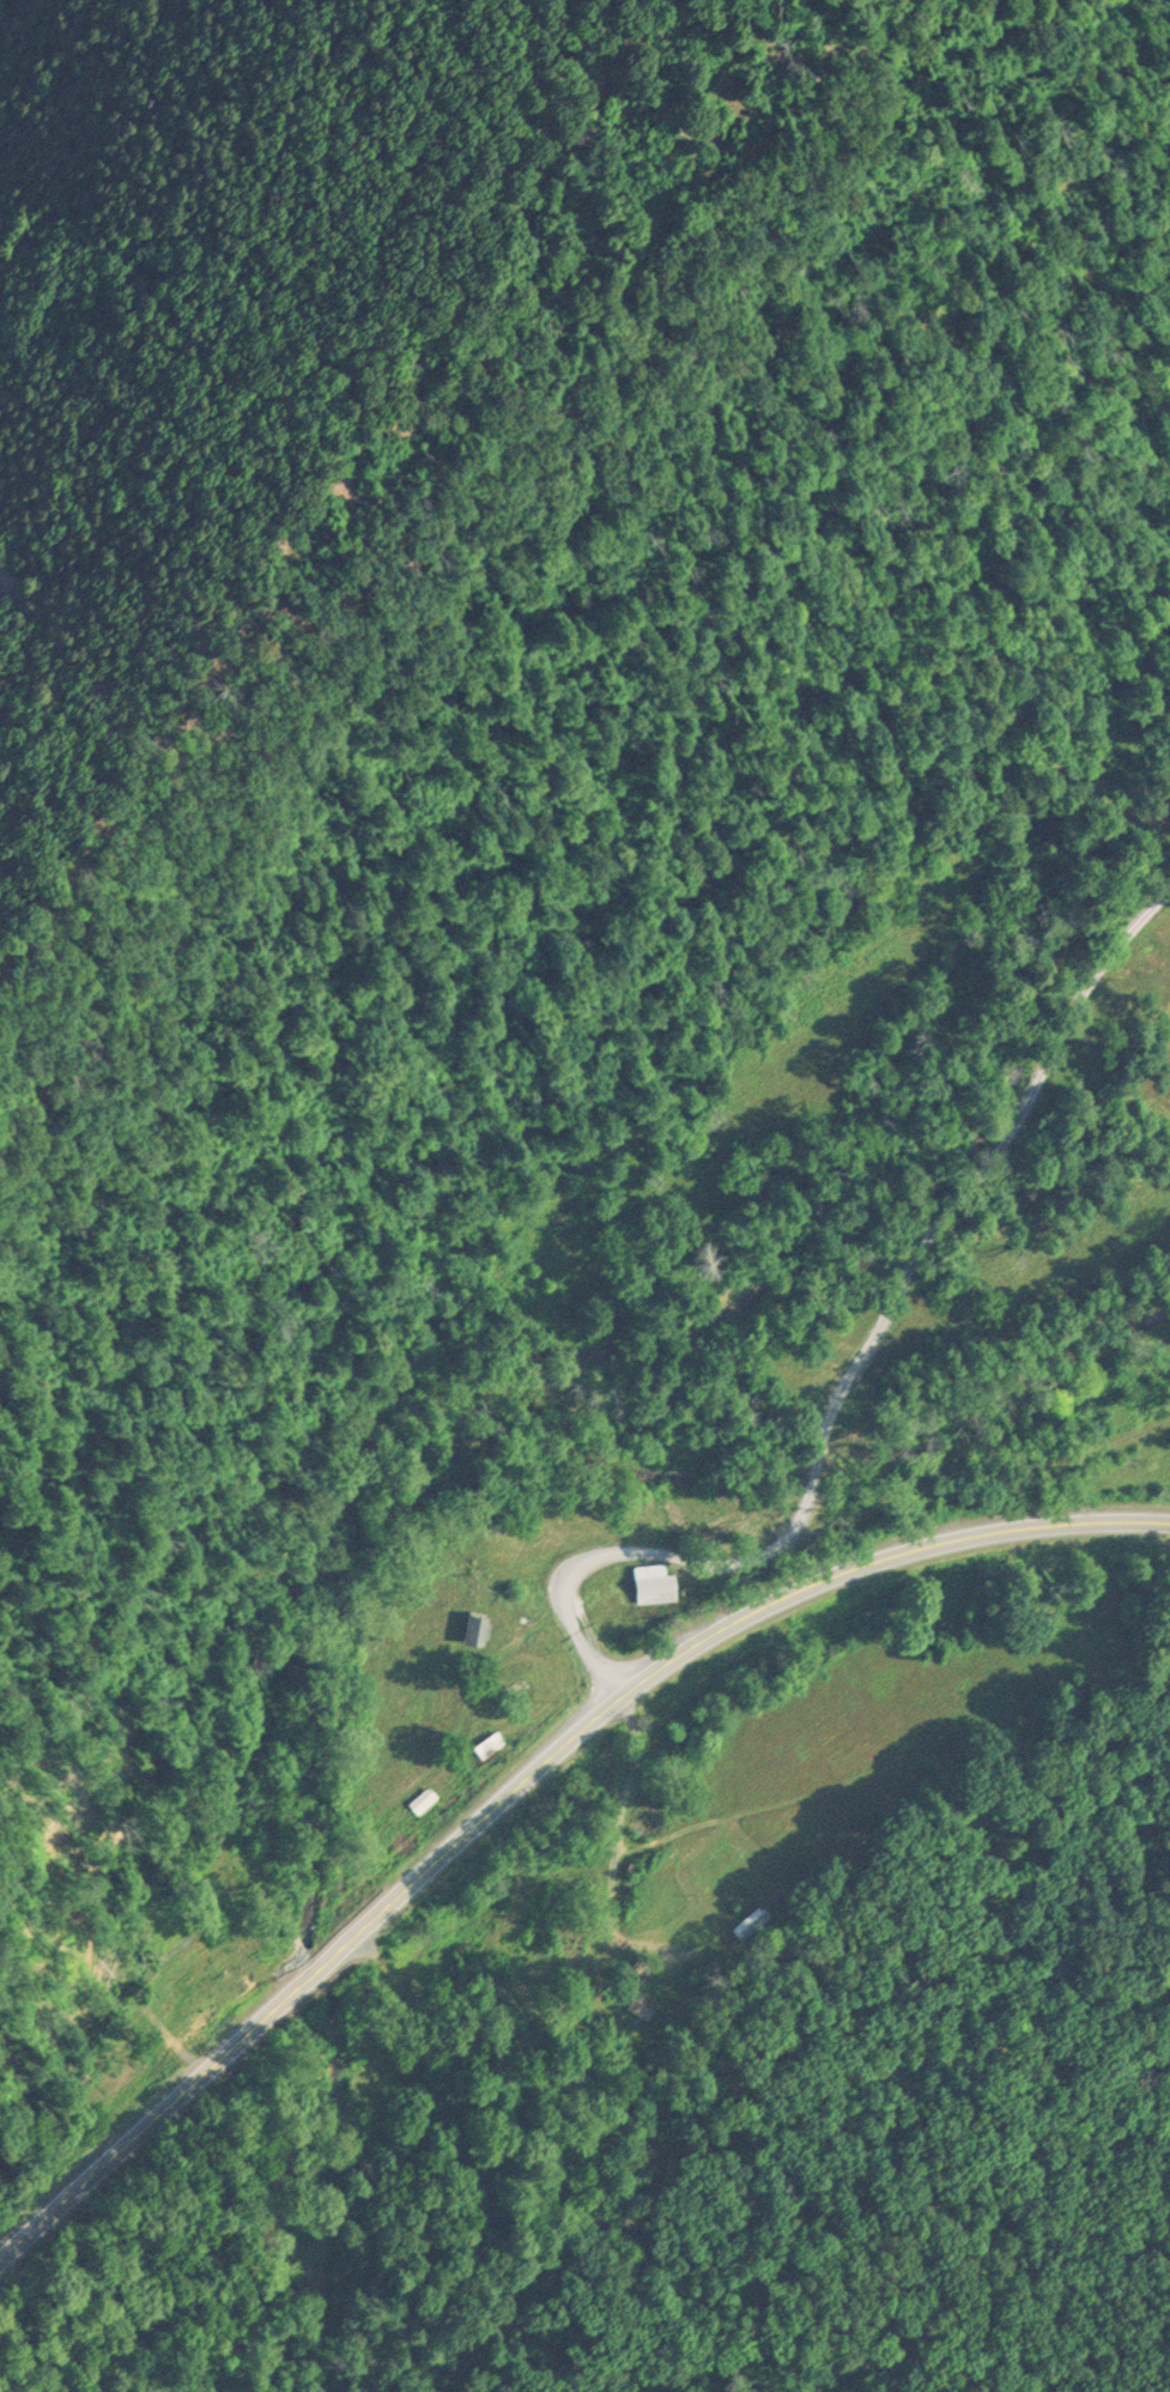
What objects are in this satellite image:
crop: (1148, 1050)
road: (856, 1361)
building: (655, 1581)
building: (475, 1624)
building: (490, 1744)
road: (526, 1779)
building: (422, 1798)
building: (745, 1922)
building: (637, 2004)
building: (437, 2061)

